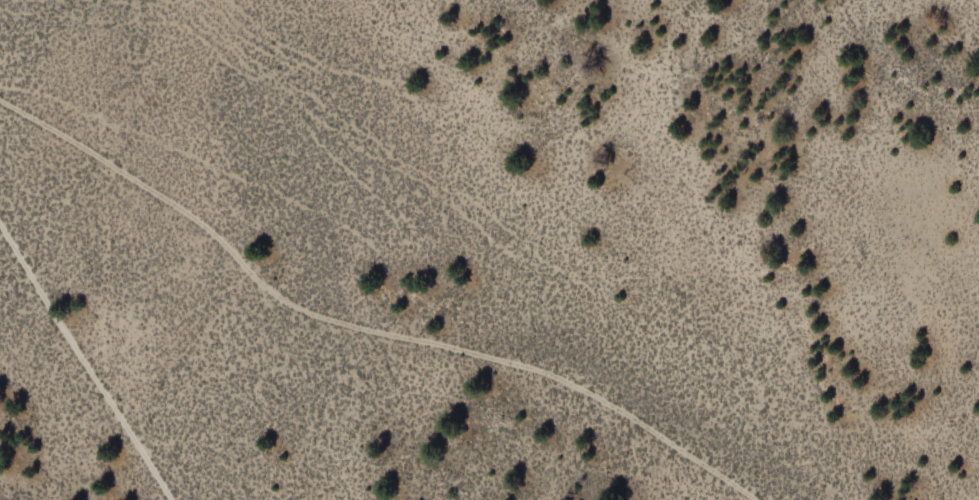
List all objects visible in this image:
road: (110, 258)
road: (53, 311)
road: (359, 327)

